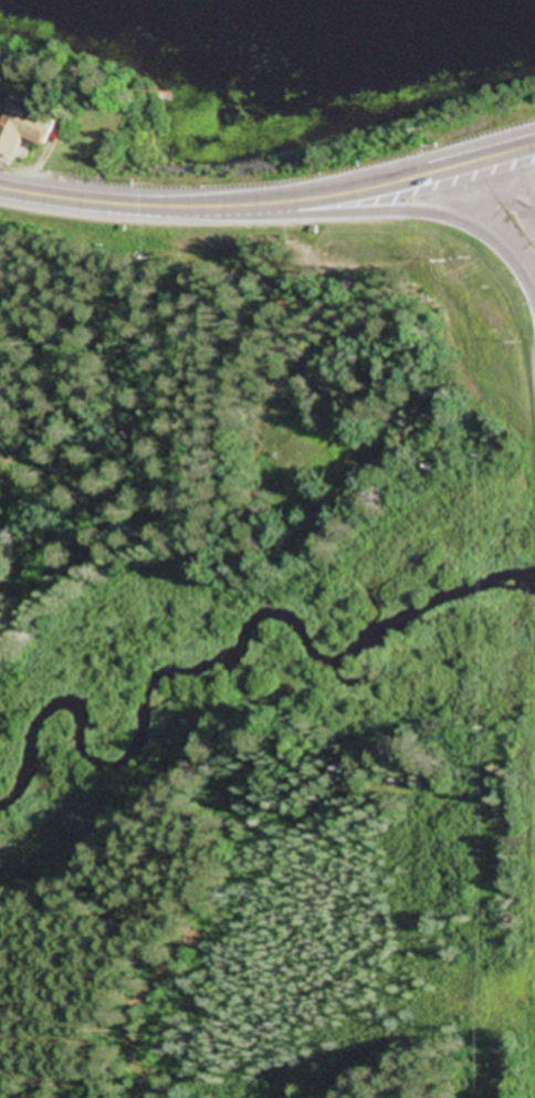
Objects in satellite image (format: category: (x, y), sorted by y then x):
building: (22, 126)
road: (344, 195)
road: (74, 201)
road: (357, 215)

